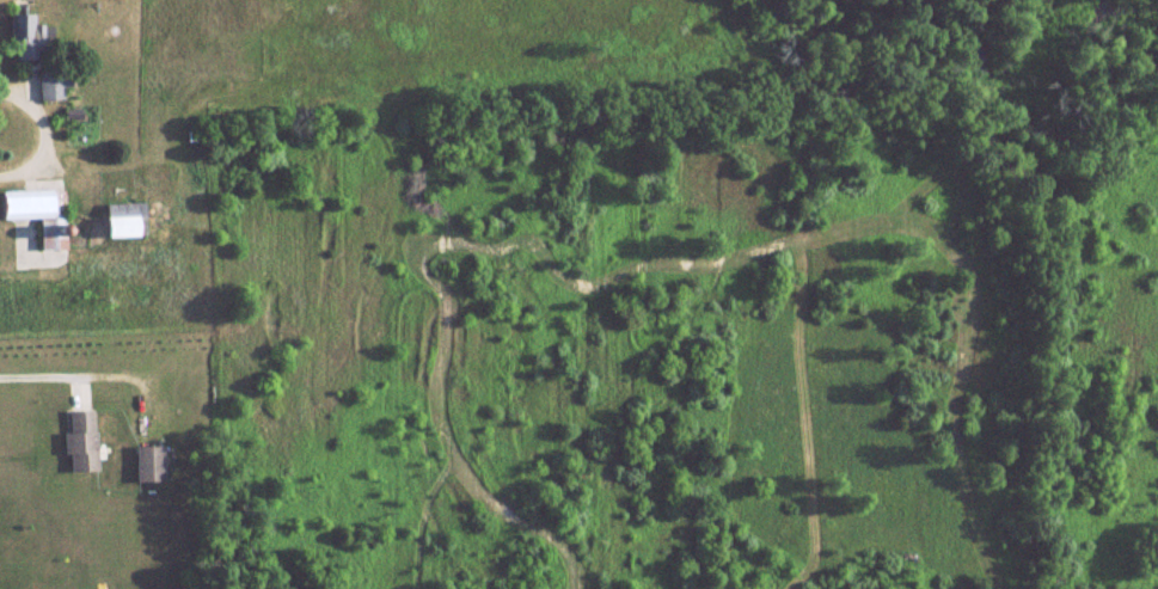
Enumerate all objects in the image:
building: (31, 54)
road: (41, 122)
building: (35, 213)
building: (117, 219)
road: (47, 364)
building: (75, 440)
building: (142, 464)

